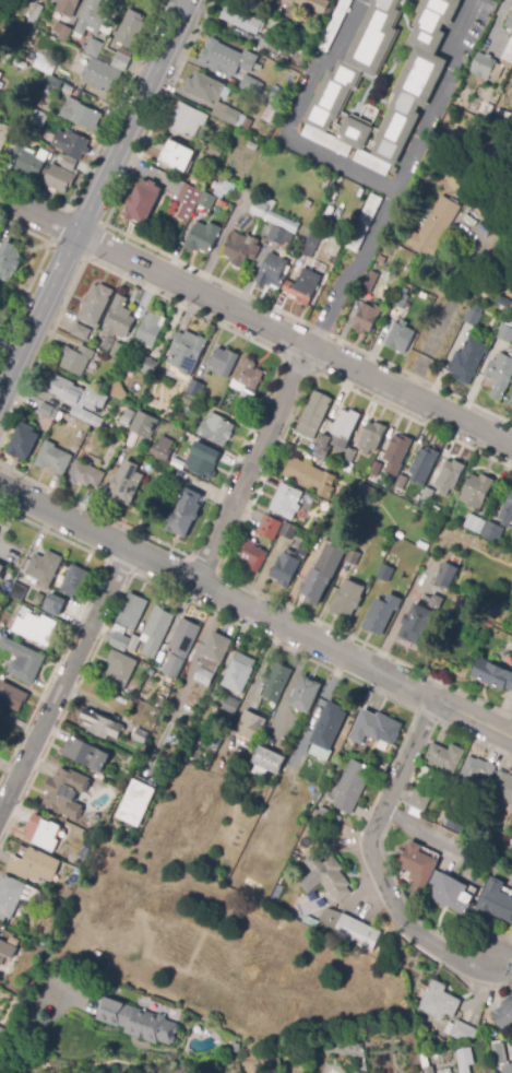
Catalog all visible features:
building: (266, 2)
building: (511, 4)
building: (313, 5)
building: (67, 7)
building: (35, 13)
building: (326, 14)
building: (242, 17)
building: (95, 20)
building: (509, 26)
building: (130, 30)
building: (61, 32)
building: (269, 43)
building: (94, 47)
building: (108, 56)
building: (122, 59)
building: (229, 59)
building: (21, 64)
building: (491, 64)
building: (46, 66)
building: (425, 73)
building: (0, 75)
building: (358, 75)
building: (104, 76)
building: (247, 83)
building: (203, 87)
building: (69, 89)
building: (259, 91)
building: (465, 96)
building: (487, 110)
building: (271, 114)
building: (81, 116)
building: (23, 117)
building: (39, 117)
building: (231, 117)
building: (187, 120)
building: (4, 134)
building: (71, 144)
building: (252, 146)
building: (20, 148)
building: (214, 150)
building: (176, 155)
building: (31, 163)
building: (69, 164)
road: (360, 173)
building: (59, 179)
building: (200, 180)
building: (221, 186)
road: (94, 196)
building: (144, 201)
building: (189, 201)
building: (207, 201)
building: (219, 204)
building: (308, 204)
building: (273, 216)
building: (433, 227)
building: (201, 235)
building: (276, 235)
building: (334, 245)
building: (311, 246)
building: (240, 247)
building: (10, 261)
road: (36, 269)
road: (354, 269)
building: (272, 272)
building: (376, 279)
building: (301, 286)
building: (422, 296)
building: (402, 298)
building: (504, 303)
building: (95, 304)
building: (474, 316)
building: (365, 317)
road: (15, 319)
building: (119, 319)
road: (255, 321)
building: (151, 329)
building: (81, 332)
building: (504, 332)
building: (398, 335)
building: (119, 352)
building: (184, 352)
building: (76, 359)
building: (467, 361)
building: (224, 362)
building: (147, 366)
building: (249, 373)
building: (500, 374)
building: (195, 388)
building: (117, 390)
building: (76, 400)
building: (189, 401)
building: (510, 401)
building: (48, 411)
building: (312, 414)
building: (166, 417)
building: (123, 421)
building: (142, 424)
building: (343, 428)
building: (216, 431)
building: (371, 437)
building: (22, 444)
building: (160, 448)
building: (322, 448)
building: (396, 453)
building: (53, 458)
building: (347, 460)
building: (202, 461)
road: (251, 463)
building: (424, 463)
building: (179, 464)
building: (373, 473)
building: (85, 475)
building: (450, 476)
building: (311, 479)
building: (401, 482)
building: (126, 486)
building: (361, 491)
building: (476, 491)
building: (425, 498)
building: (285, 502)
building: (510, 504)
building: (181, 515)
building: (474, 524)
building: (269, 528)
building: (287, 531)
building: (491, 532)
building: (253, 555)
building: (353, 556)
building: (455, 561)
building: (44, 568)
building: (284, 568)
building: (1, 569)
building: (322, 571)
building: (446, 576)
building: (74, 580)
building: (7, 586)
building: (379, 586)
building: (21, 594)
building: (347, 599)
building: (52, 604)
road: (257, 611)
building: (381, 612)
building: (128, 620)
building: (417, 622)
building: (35, 628)
building: (155, 632)
building: (183, 636)
building: (134, 644)
building: (212, 657)
building: (23, 661)
building: (119, 670)
building: (237, 671)
building: (492, 675)
building: (276, 681)
road: (63, 682)
building: (303, 693)
building: (12, 697)
building: (230, 705)
building: (100, 724)
building: (326, 724)
building: (251, 726)
building: (374, 727)
building: (140, 736)
building: (211, 743)
building: (86, 754)
building: (243, 756)
building: (444, 757)
building: (266, 763)
building: (476, 770)
building: (289, 773)
building: (352, 786)
building: (502, 786)
building: (62, 790)
building: (421, 790)
building: (136, 803)
building: (319, 805)
building: (488, 807)
building: (336, 817)
building: (271, 832)
building: (41, 833)
road: (446, 842)
road: (373, 862)
building: (34, 865)
building: (418, 865)
building: (330, 876)
building: (433, 879)
building: (450, 894)
building: (13, 896)
building: (496, 901)
building: (344, 928)
building: (7, 952)
building: (439, 1002)
building: (503, 1013)
road: (33, 1018)
building: (136, 1022)
building: (421, 1026)
building: (511, 1028)
building: (461, 1031)
building: (2, 1034)
building: (357, 1043)
building: (236, 1048)
building: (497, 1053)
building: (464, 1060)
building: (426, 1064)
building: (507, 1068)

